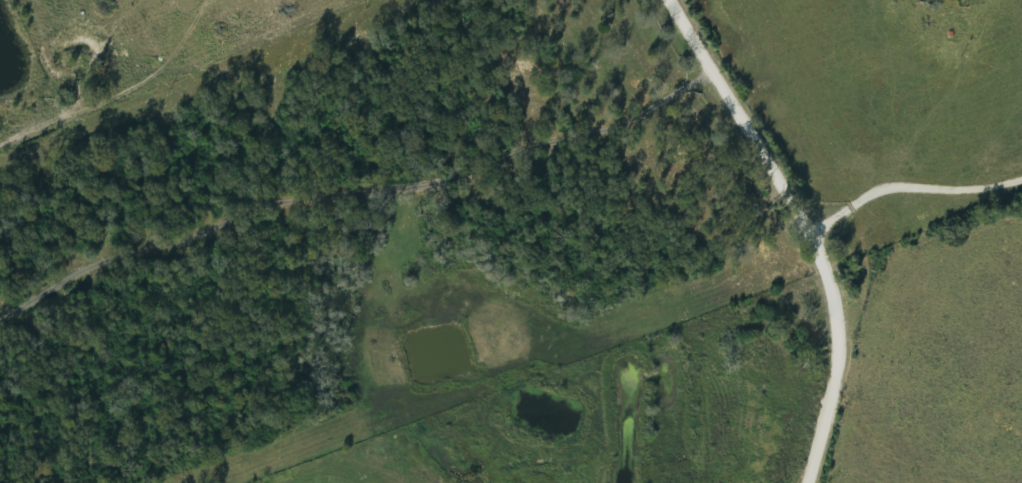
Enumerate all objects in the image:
road: (909, 188)
road: (806, 227)

